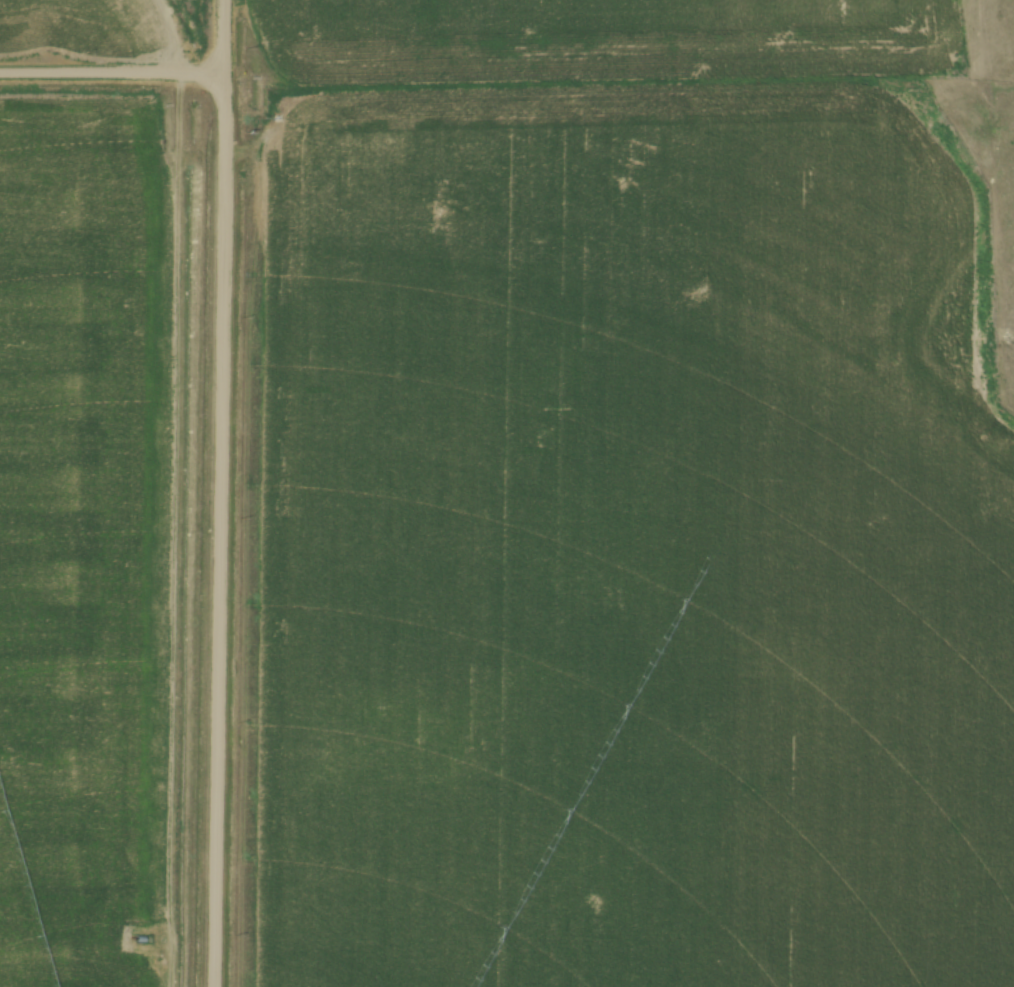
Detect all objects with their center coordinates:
road: (113, 73)
road: (223, 493)

